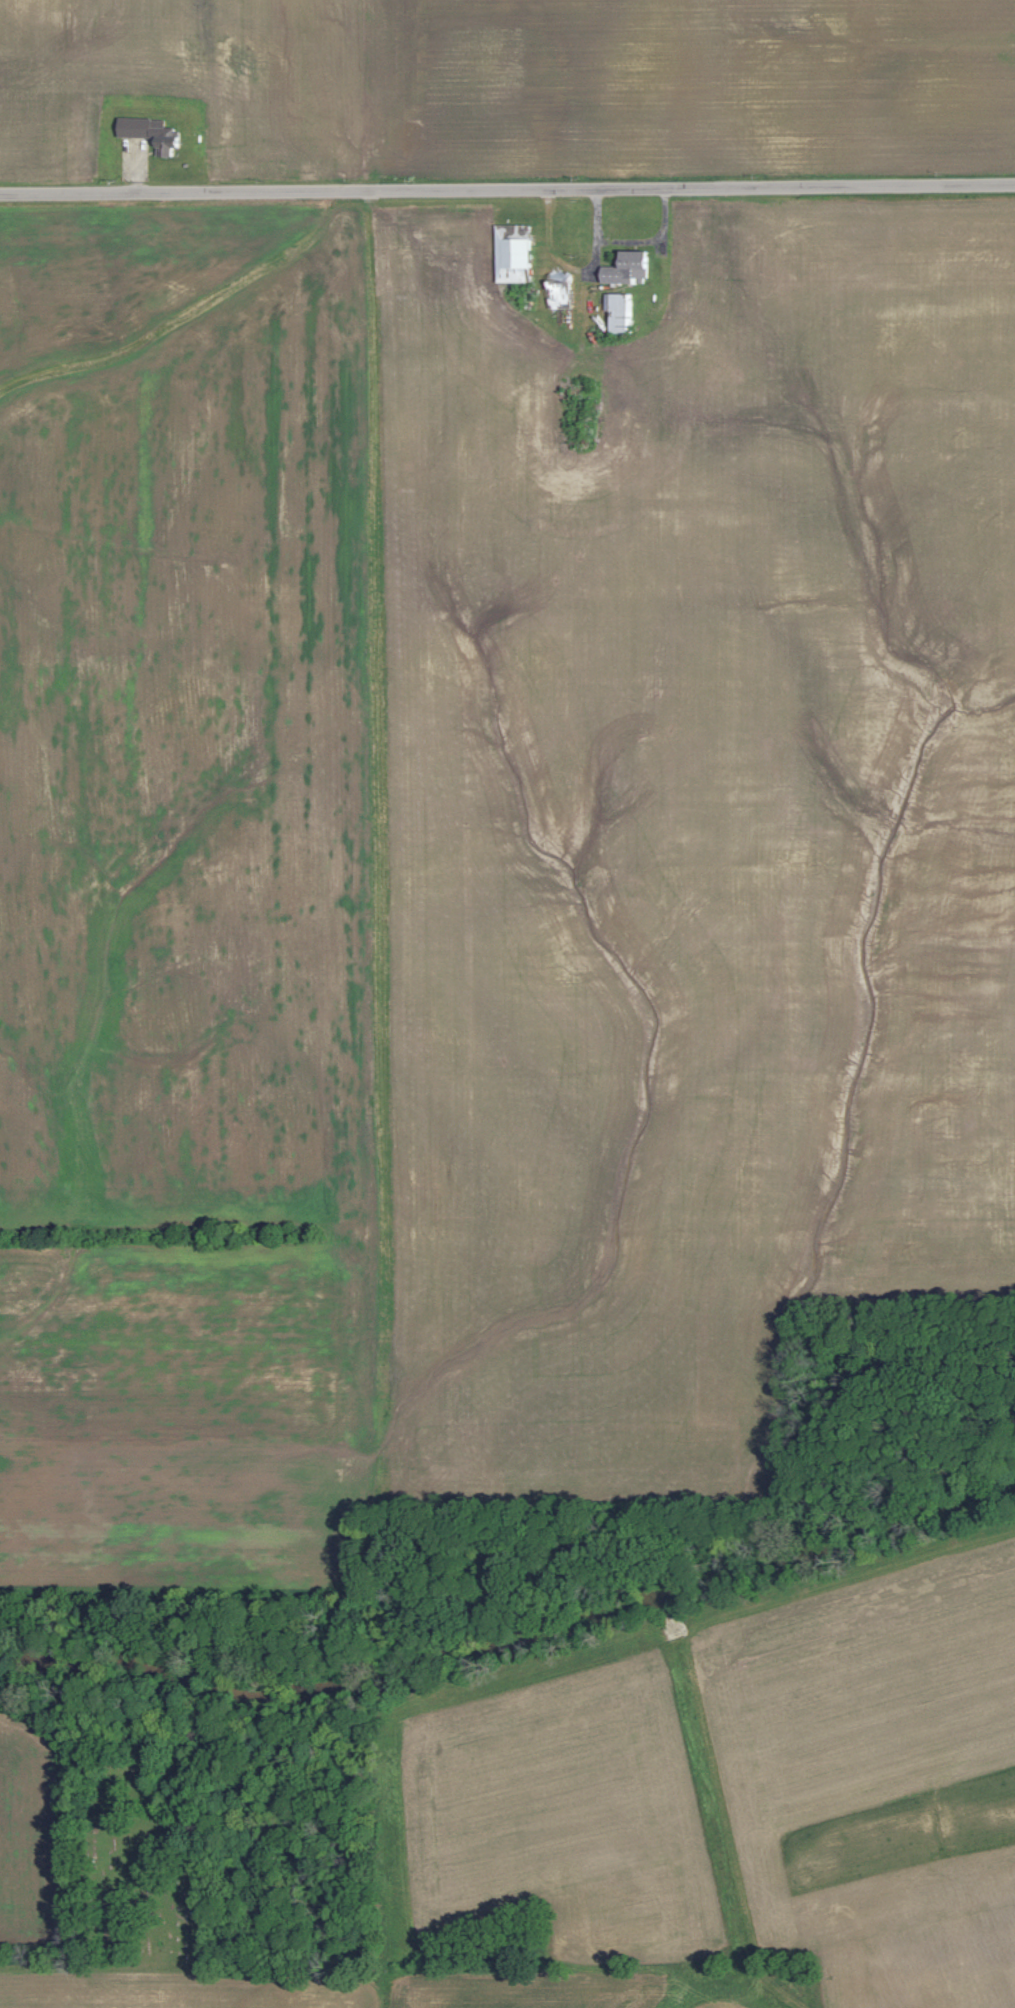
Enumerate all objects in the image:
road: (507, 187)
building: (511, 252)
building: (625, 266)
building: (557, 293)

